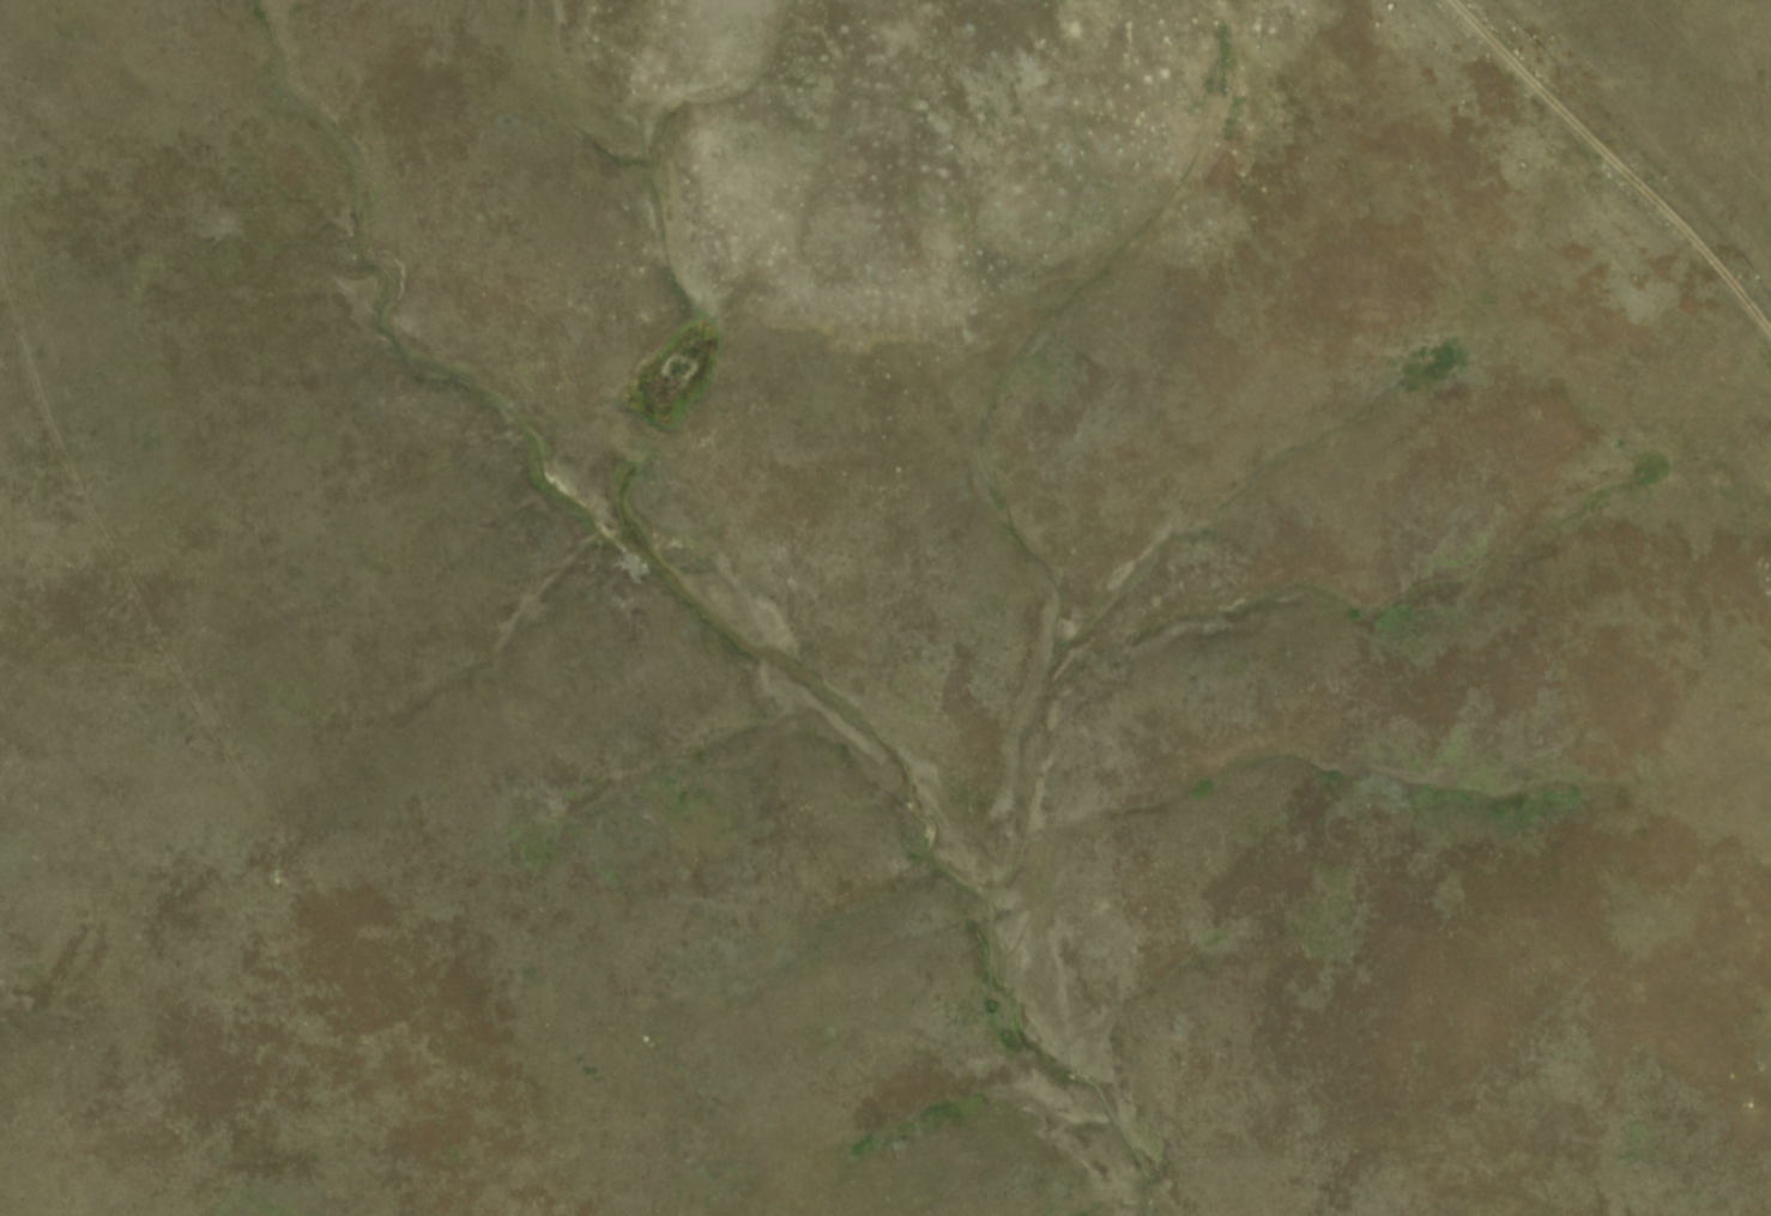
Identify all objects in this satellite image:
road: (1626, 158)

